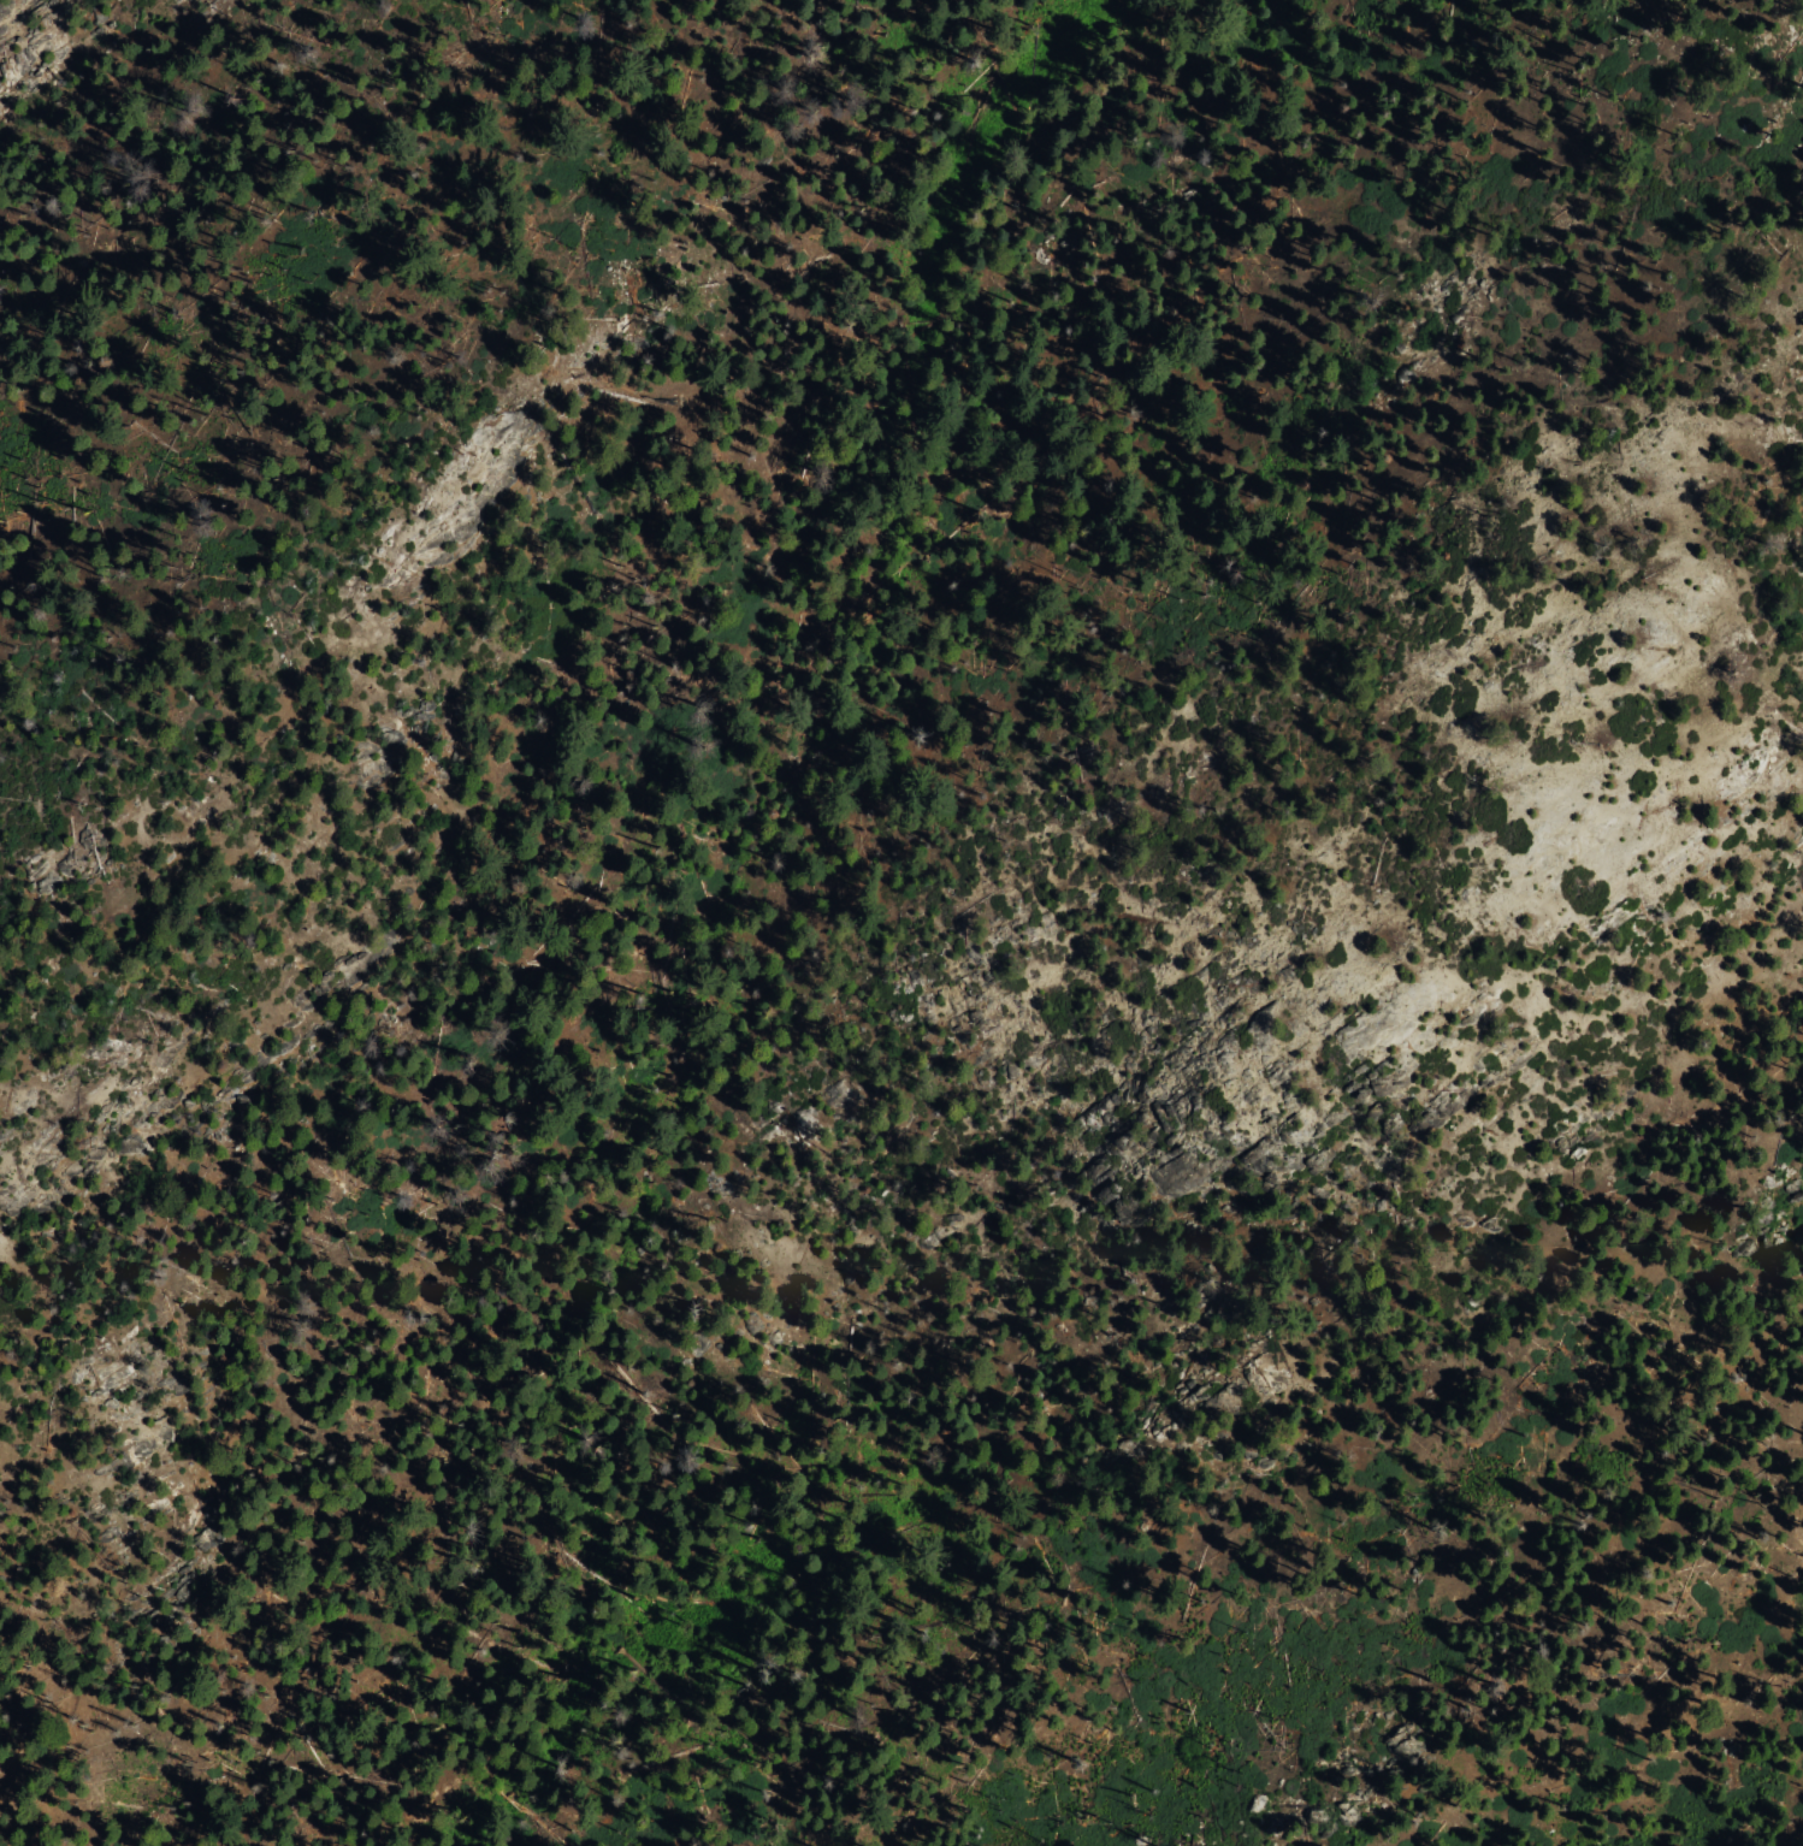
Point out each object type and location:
road: (1783, 1803)

